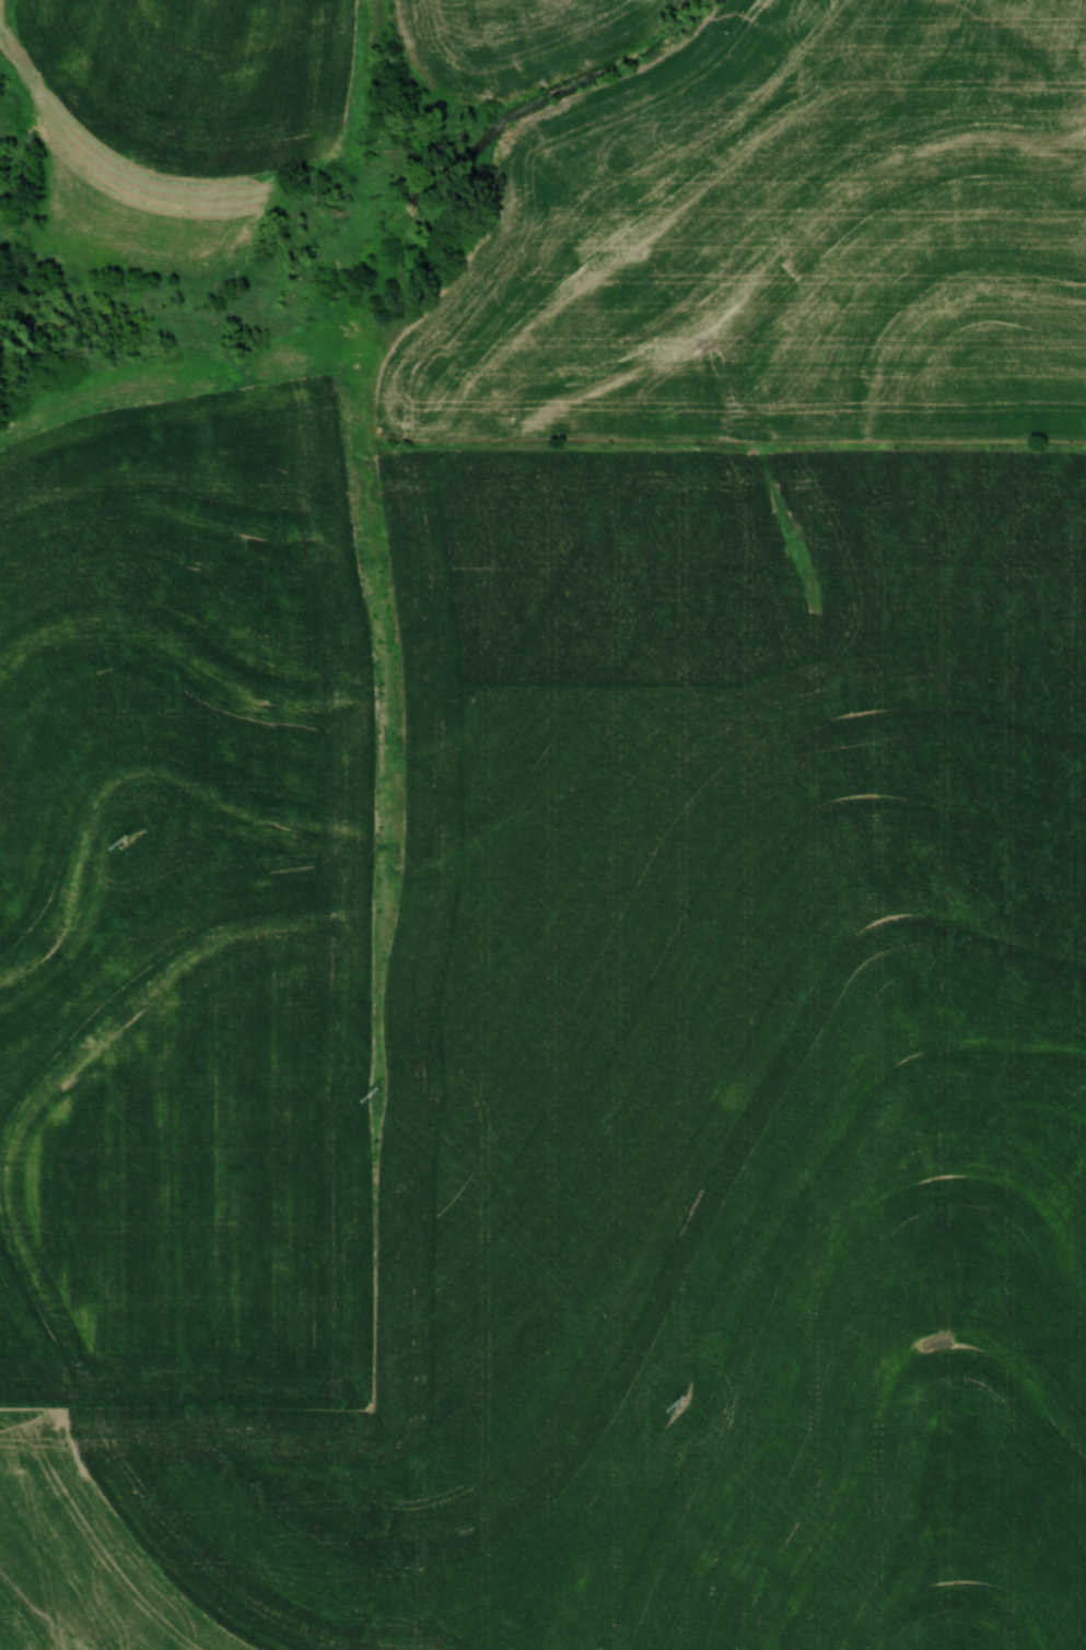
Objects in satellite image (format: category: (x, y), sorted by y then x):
power tower: (126, 841)
power tower: (376, 1093)
power tower: (682, 1403)

